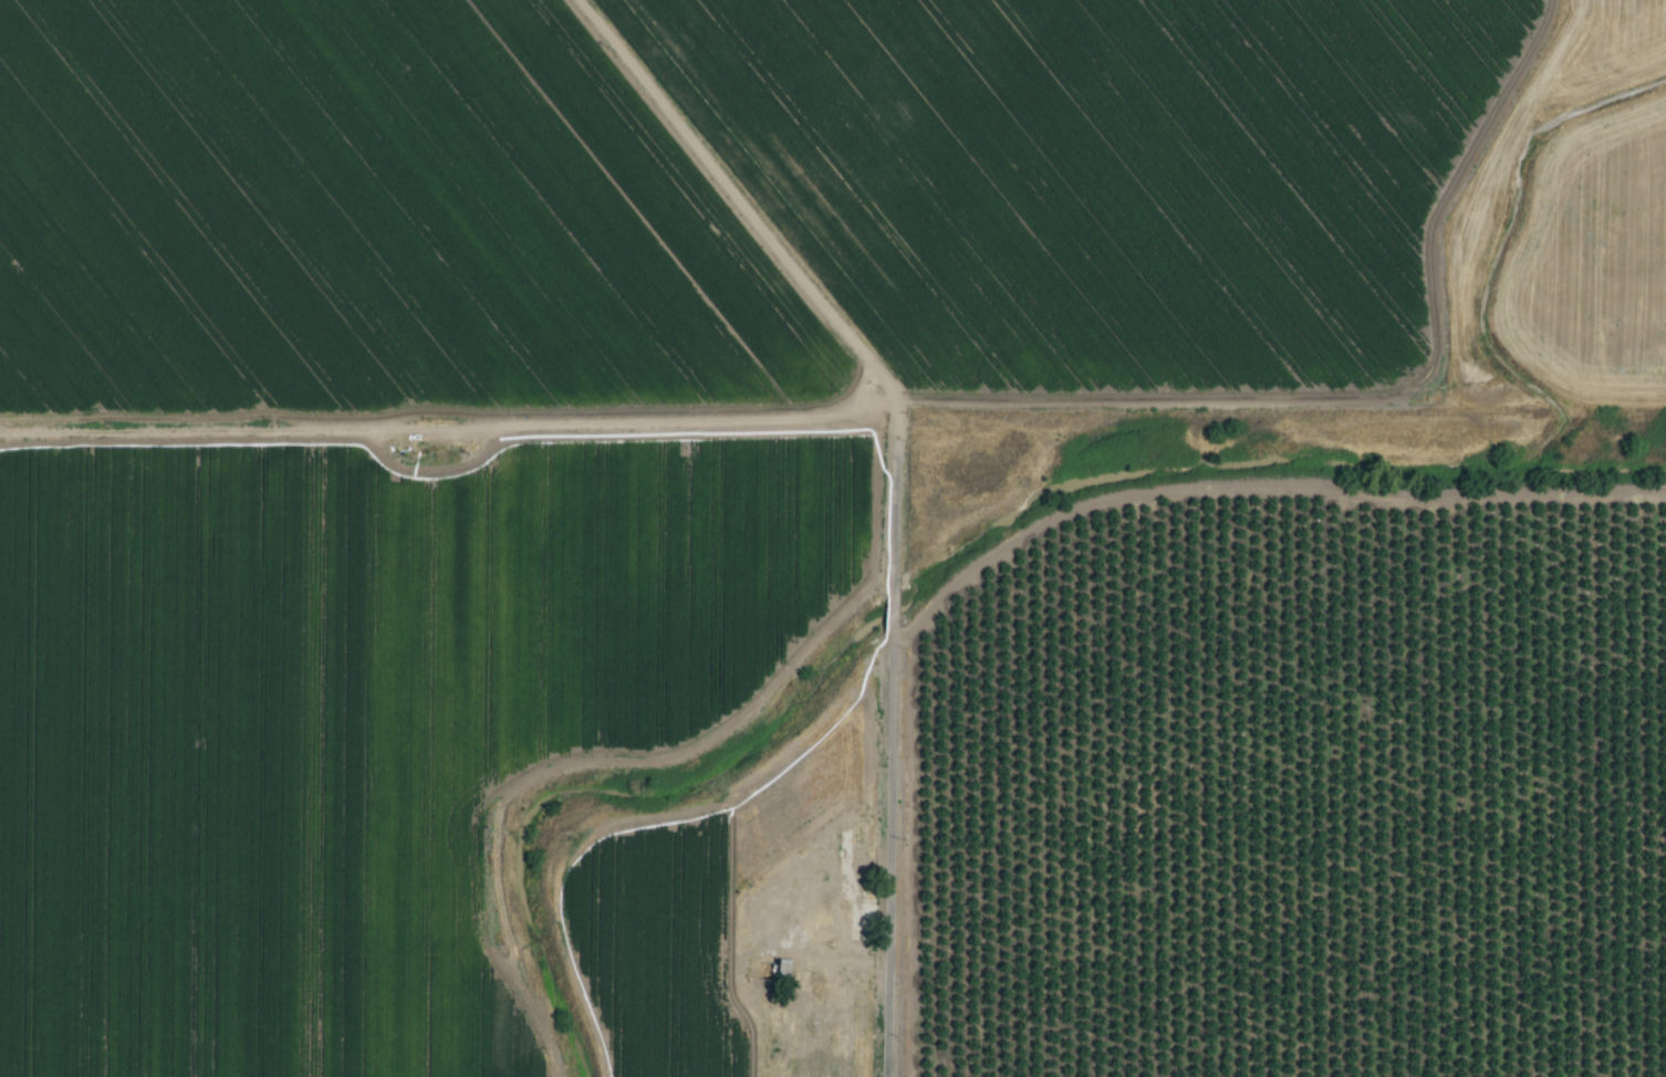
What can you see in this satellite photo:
road: (900, 482)
building: (842, 855)
building: (763, 970)

